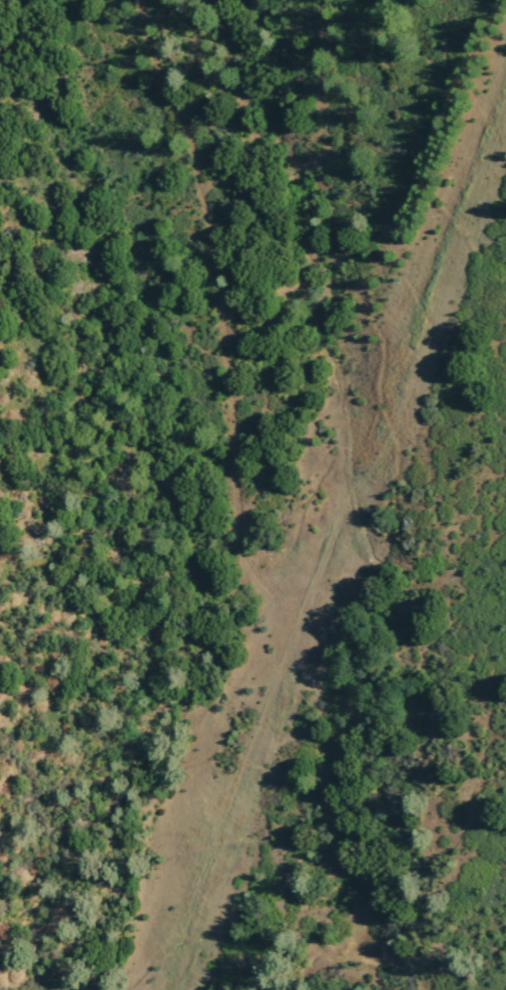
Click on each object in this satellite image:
road: (218, 258)

